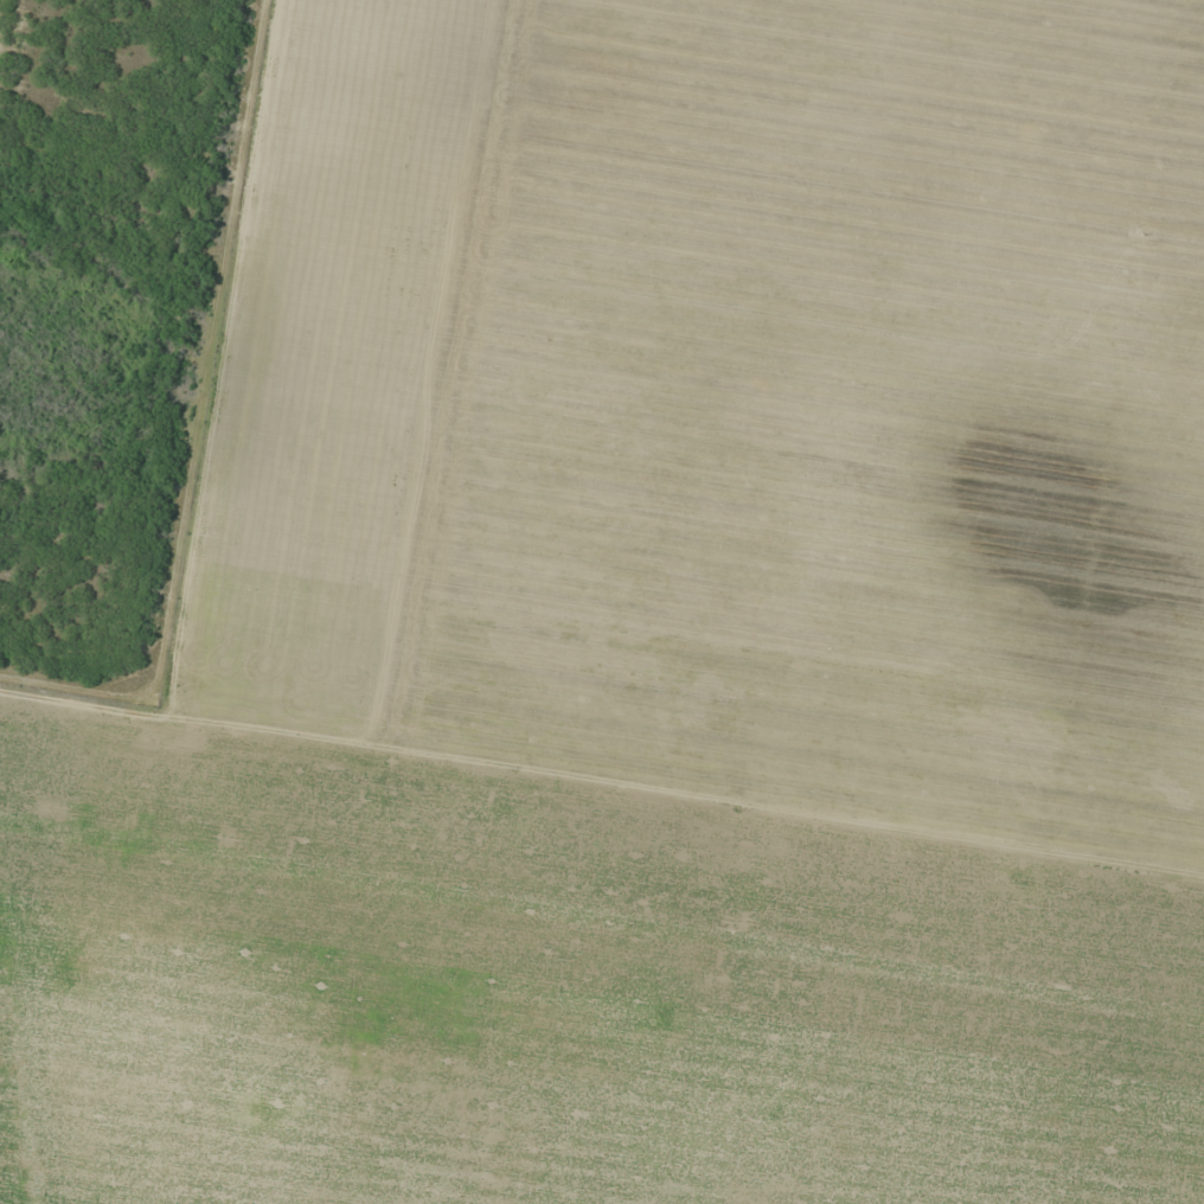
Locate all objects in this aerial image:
road: (602, 782)

